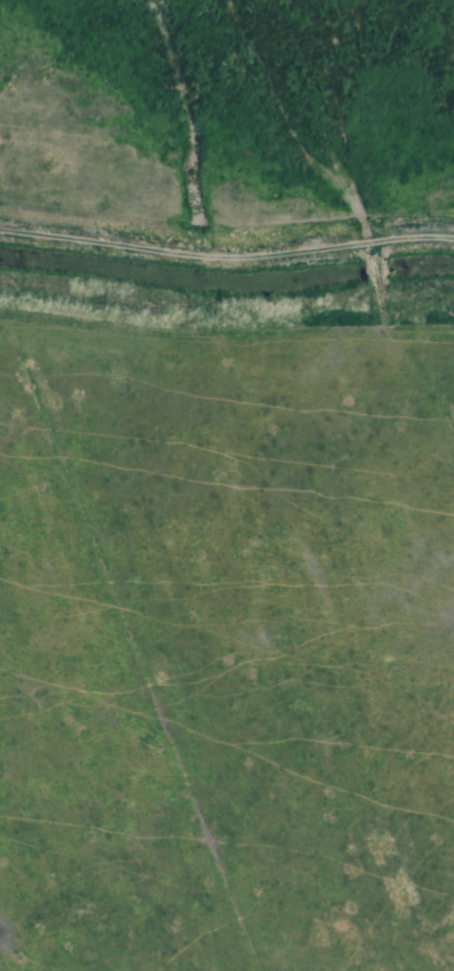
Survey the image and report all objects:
road: (227, 395)

